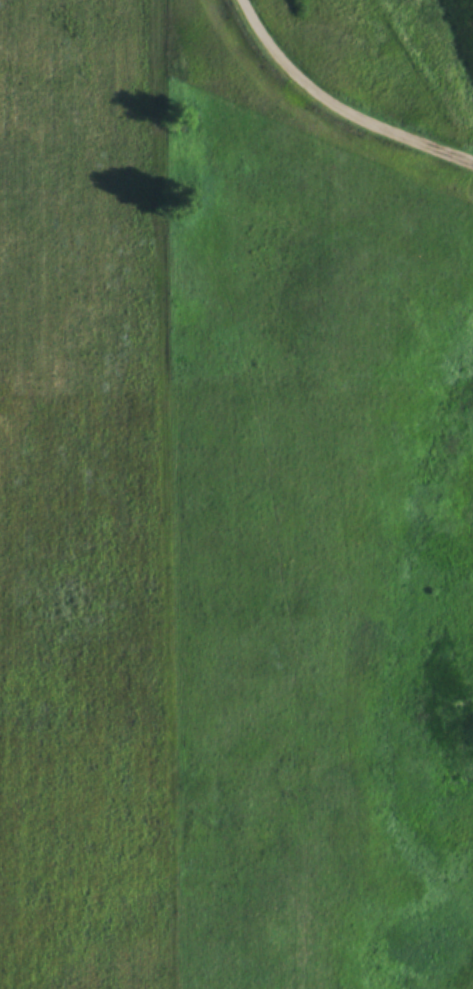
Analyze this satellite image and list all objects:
road: (342, 103)

